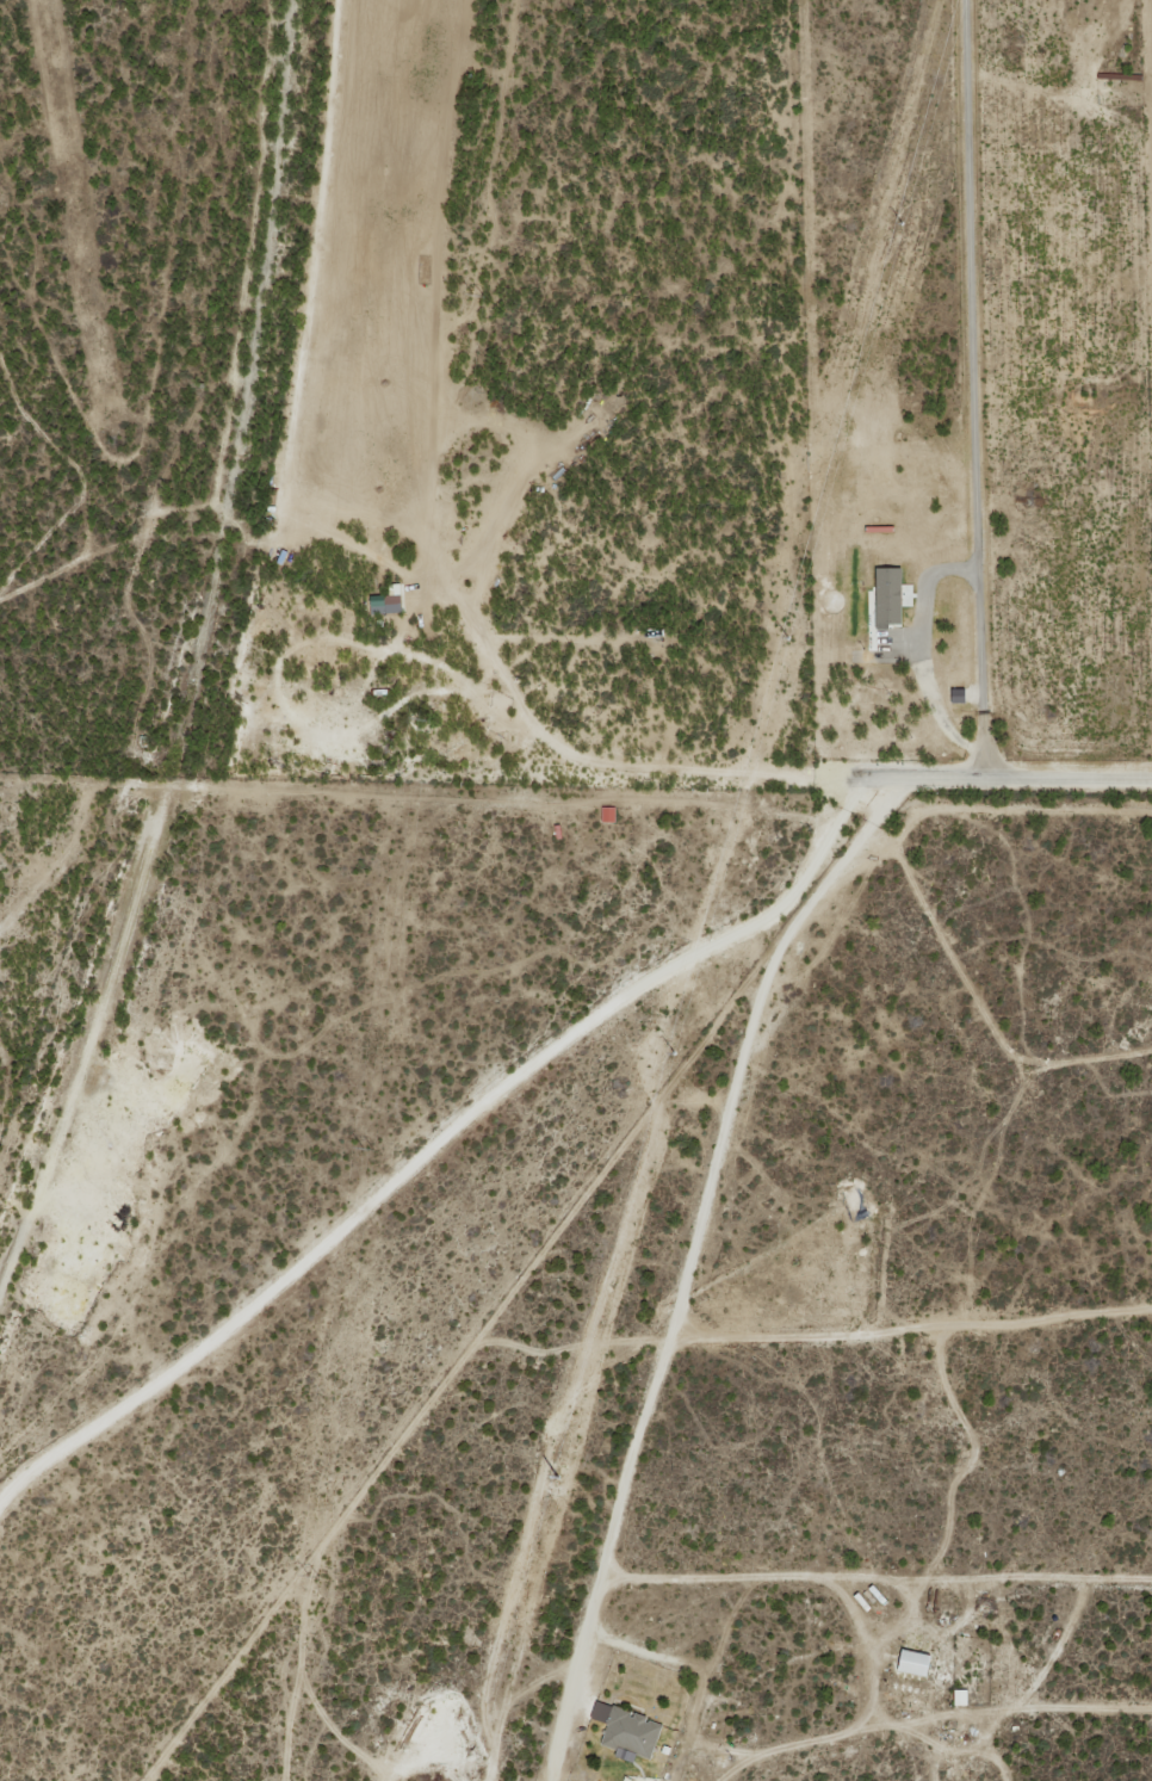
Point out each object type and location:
power tower: (896, 218)
road: (240, 293)
power tower: (483, 293)
road: (972, 389)
road: (68, 563)
building: (888, 595)
building: (383, 604)
power tower: (784, 633)
building: (955, 695)
railway: (227, 699)
power tower: (426, 716)
road: (171, 737)
road: (1002, 778)
road: (243, 786)
building: (606, 815)
power tower: (671, 1049)
road: (439, 1137)
power tower: (364, 1148)
road: (683, 1262)
power tower: (559, 1464)
power tower: (306, 1575)
road: (875, 1578)
building: (911, 1662)
building: (958, 1696)
building: (625, 1731)

